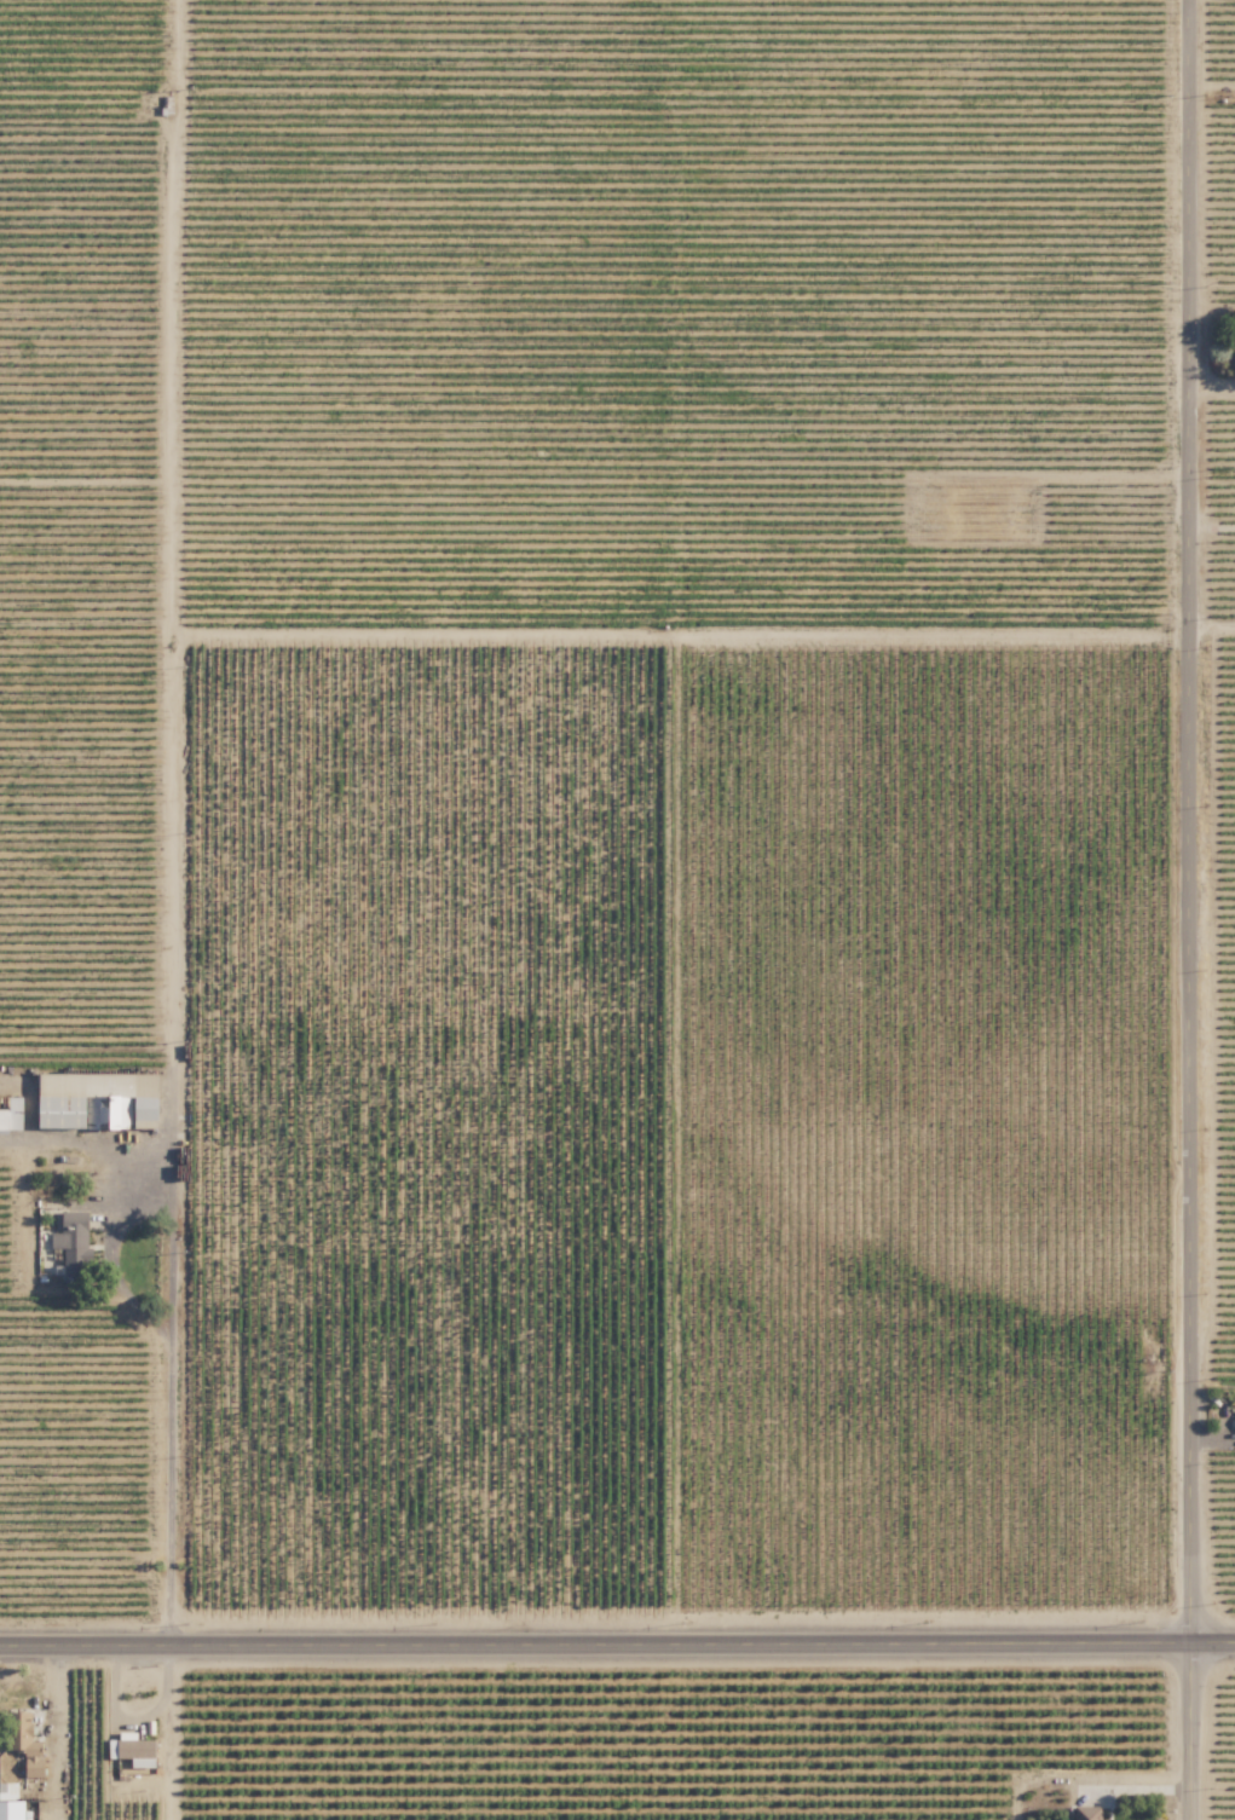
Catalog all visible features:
road: (1212, 385)
road: (1212, 526)
road: (1212, 626)
road: (1191, 909)
building: (135, 1108)
building: (77, 1263)
road: (171, 1329)
road: (617, 1649)
building: (31, 1749)
road: (1137, 1789)
building: (1089, 1813)

